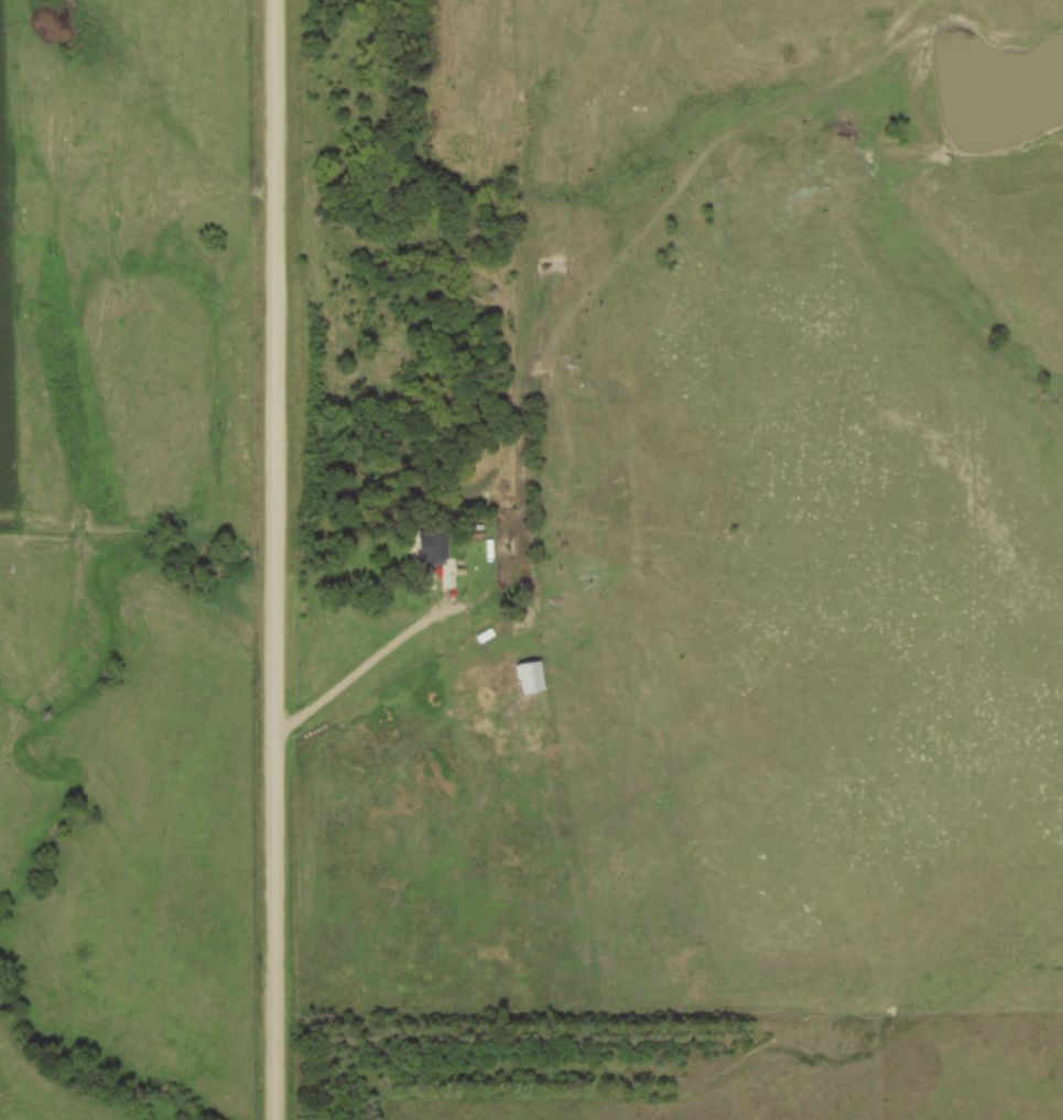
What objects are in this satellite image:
crop: (4, 374)
building: (429, 551)
road: (272, 559)
road: (376, 656)
building: (443, 774)

